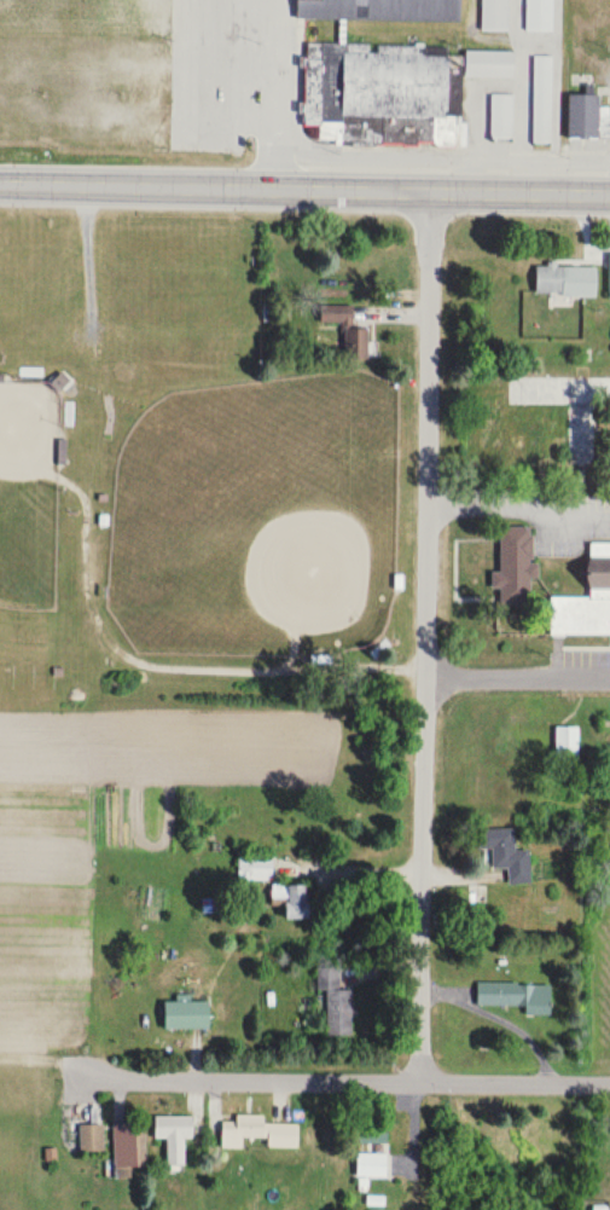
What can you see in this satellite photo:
building: (377, 4)
building: (487, 8)
building: (534, 10)
building: (379, 83)
building: (536, 89)
building: (501, 117)
building: (585, 117)
road: (304, 184)
building: (609, 274)
building: (565, 280)
building: (348, 330)
building: (582, 434)
park: (29, 492)
park: (256, 515)
building: (515, 561)
building: (597, 562)
road: (423, 631)
road: (516, 666)
building: (567, 741)
building: (507, 855)
building: (255, 869)
building: (292, 901)
building: (517, 996)
building: (337, 1002)
building: (186, 1014)
road: (343, 1078)
building: (257, 1131)
building: (89, 1136)
building: (174, 1136)
building: (129, 1148)
building: (372, 1164)

